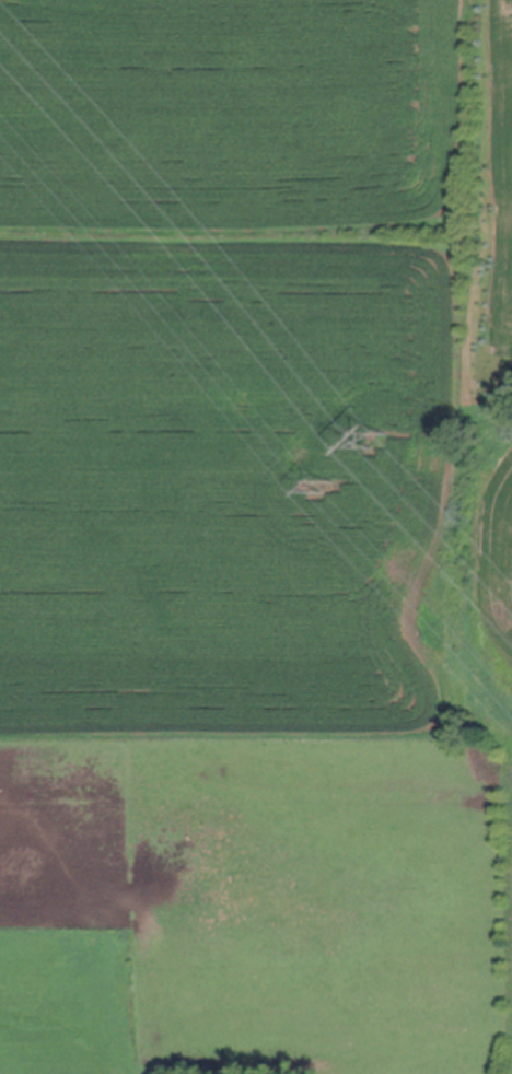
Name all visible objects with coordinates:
power tower: (376, 440)
power tower: (324, 485)

